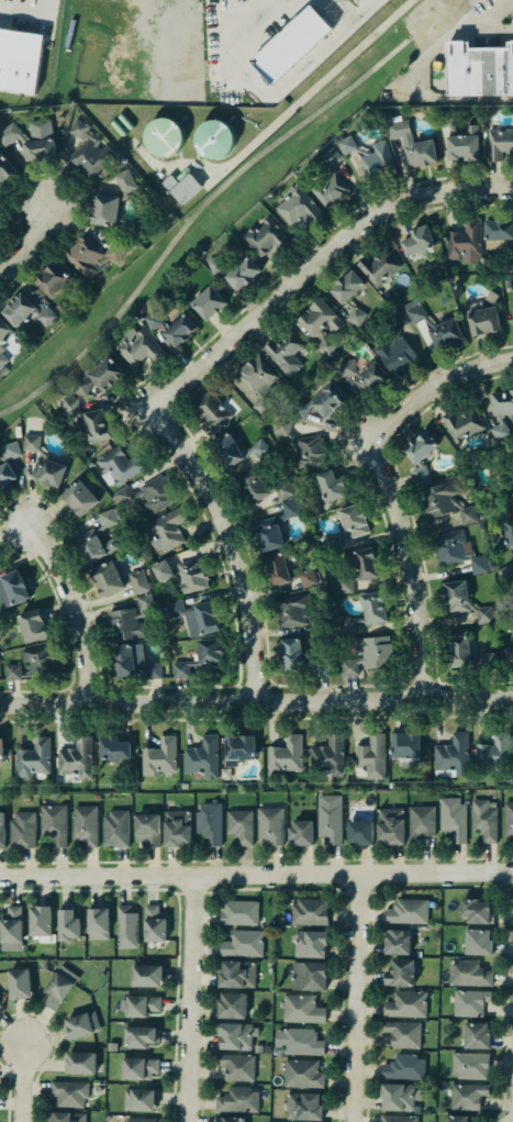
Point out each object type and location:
building: (291, 44)
building: (20, 62)
road: (424, 65)
building: (478, 66)
road: (321, 78)
building: (446, 120)
building: (9, 134)
building: (164, 136)
building: (498, 138)
building: (214, 140)
building: (40, 141)
building: (459, 141)
building: (413, 145)
building: (90, 151)
building: (368, 155)
building: (5, 169)
building: (125, 181)
building: (330, 181)
road: (208, 198)
building: (298, 208)
building: (104, 210)
building: (126, 229)
building: (0, 230)
building: (498, 233)
building: (264, 235)
building: (416, 240)
building: (465, 242)
road: (32, 246)
building: (92, 256)
building: (511, 258)
road: (319, 264)
building: (377, 266)
building: (233, 269)
building: (53, 279)
building: (348, 295)
building: (209, 302)
building: (25, 311)
building: (414, 311)
building: (512, 314)
building: (481, 318)
building: (399, 320)
building: (320, 323)
building: (170, 325)
building: (4, 331)
building: (448, 333)
building: (1, 347)
building: (137, 348)
building: (286, 353)
building: (394, 354)
building: (2, 358)
building: (360, 374)
building: (98, 375)
building: (259, 382)
building: (319, 401)
building: (502, 411)
building: (210, 412)
building: (88, 420)
building: (461, 423)
building: (235, 449)
building: (419, 455)
building: (3, 463)
building: (43, 463)
building: (119, 464)
building: (260, 486)
building: (330, 487)
road: (395, 492)
building: (512, 493)
building: (146, 496)
building: (80, 498)
building: (448, 501)
building: (109, 518)
building: (274, 526)
building: (346, 526)
building: (165, 531)
building: (505, 535)
building: (92, 545)
road: (236, 545)
building: (457, 552)
building: (0, 567)
building: (160, 569)
building: (277, 569)
building: (359, 570)
building: (190, 575)
building: (508, 577)
building: (119, 580)
building: (12, 589)
building: (457, 597)
road: (80, 607)
building: (176, 607)
building: (290, 608)
building: (486, 614)
building: (207, 618)
building: (129, 621)
building: (348, 624)
building: (32, 625)
building: (460, 651)
building: (209, 654)
building: (368, 656)
building: (292, 657)
building: (509, 658)
building: (486, 662)
building: (130, 663)
building: (33, 664)
building: (181, 668)
road: (256, 702)
building: (404, 745)
building: (113, 747)
building: (239, 747)
building: (1, 749)
building: (494, 751)
building: (451, 754)
building: (327, 755)
building: (370, 755)
building: (283, 756)
building: (158, 757)
building: (202, 757)
building: (76, 758)
building: (34, 759)
building: (451, 818)
building: (508, 818)
building: (330, 819)
building: (483, 820)
building: (209, 822)
building: (52, 823)
building: (421, 823)
building: (85, 824)
building: (239, 825)
building: (270, 826)
building: (390, 826)
building: (21, 827)
building: (115, 829)
building: (145, 829)
building: (177, 829)
building: (1, 831)
building: (358, 832)
building: (300, 833)
road: (256, 879)
building: (408, 911)
building: (476, 911)
building: (238, 912)
building: (310, 912)
building: (98, 922)
building: (41, 923)
building: (12, 924)
building: (68, 924)
building: (153, 924)
building: (126, 926)
building: (395, 942)
building: (478, 942)
building: (310, 943)
building: (243, 944)
building: (468, 973)
building: (235, 974)
building: (401, 974)
building: (308, 975)
building: (145, 976)
building: (20, 984)
building: (59, 988)
road: (191, 1000)
road: (354, 1001)
building: (469, 1001)
building: (0, 1002)
building: (405, 1003)
building: (140, 1006)
building: (231, 1006)
building: (301, 1009)
building: (79, 1025)
building: (403, 1034)
building: (476, 1035)
building: (140, 1036)
building: (237, 1036)
building: (298, 1041)
building: (80, 1063)
building: (470, 1065)
building: (137, 1067)
building: (237, 1067)
building: (403, 1067)
building: (302, 1074)
road: (21, 1082)
building: (69, 1093)
building: (398, 1096)
building: (468, 1096)
building: (138, 1100)
building: (237, 1100)
building: (304, 1106)
building: (68, 1117)
building: (458, 1118)
building: (228, 1119)
building: (398, 1119)
building: (137, 1120)

